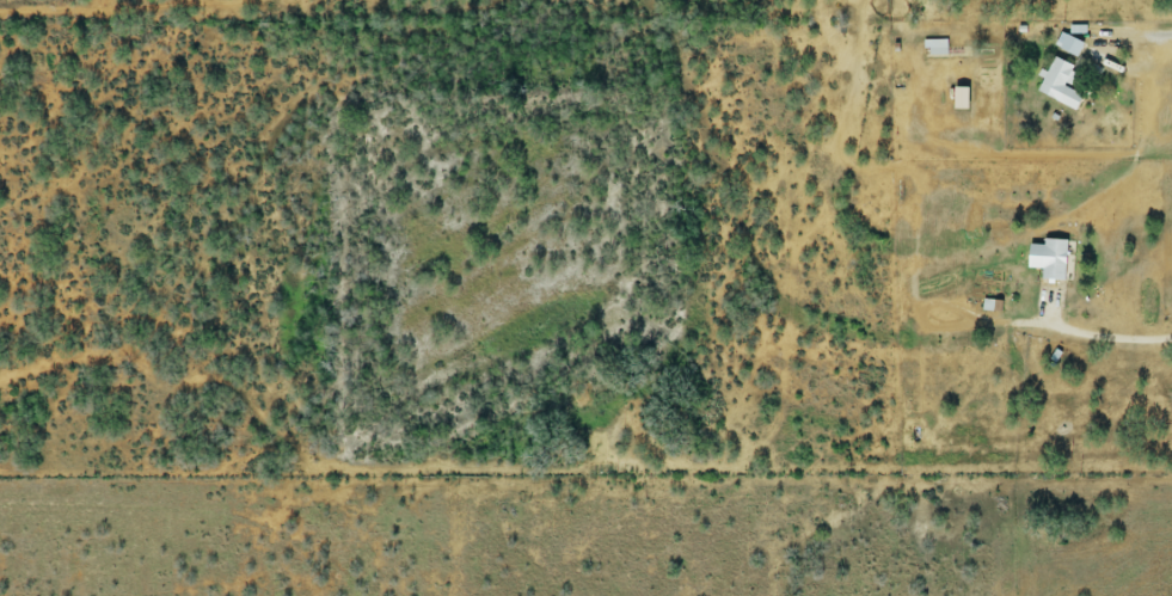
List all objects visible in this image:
road: (1139, 38)
building: (1069, 47)
building: (941, 51)
building: (1056, 86)
road: (1106, 337)

